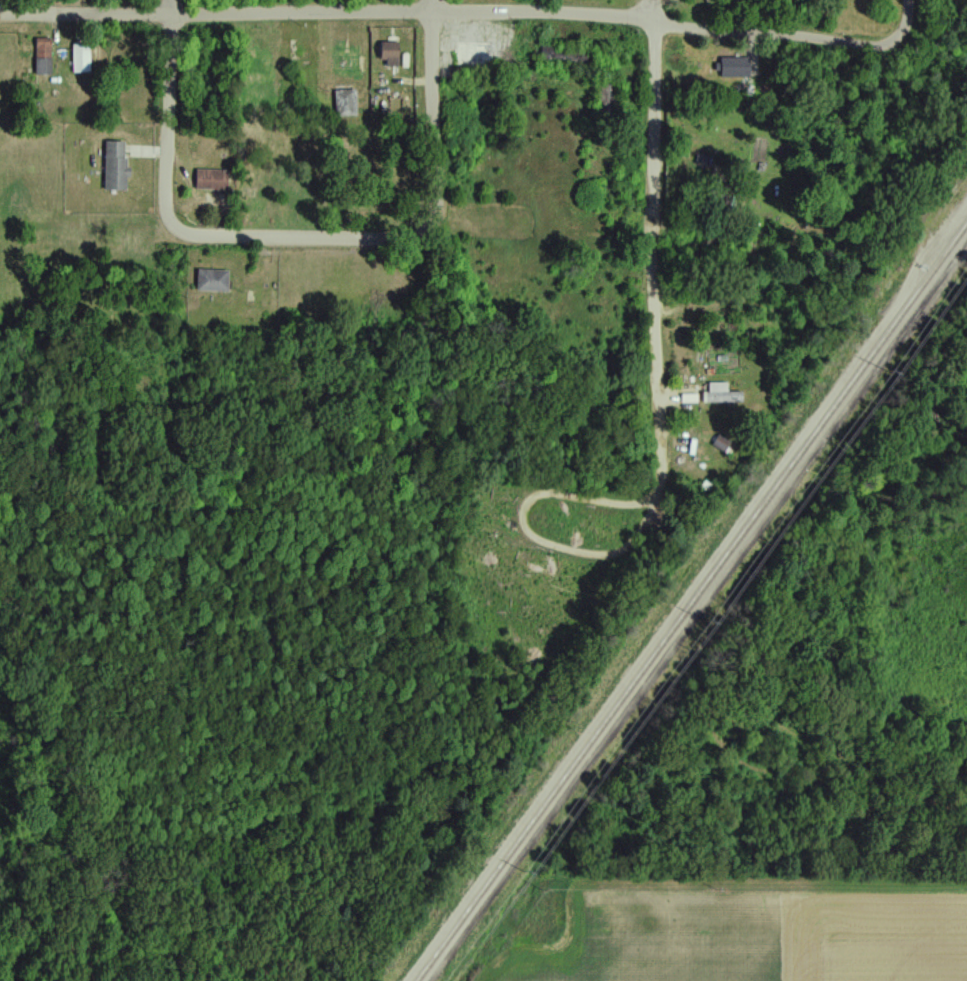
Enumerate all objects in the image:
road: (534, 5)
road: (451, 9)
road: (908, 20)
building: (388, 54)
building: (43, 56)
building: (566, 56)
building: (81, 58)
building: (476, 59)
building: (345, 62)
building: (734, 67)
building: (606, 96)
building: (345, 102)
road: (170, 116)
road: (435, 117)
building: (702, 158)
building: (115, 166)
building: (211, 179)
road: (652, 235)
road: (301, 241)
building: (212, 280)
building: (722, 394)
building: (723, 445)
railway: (693, 605)

